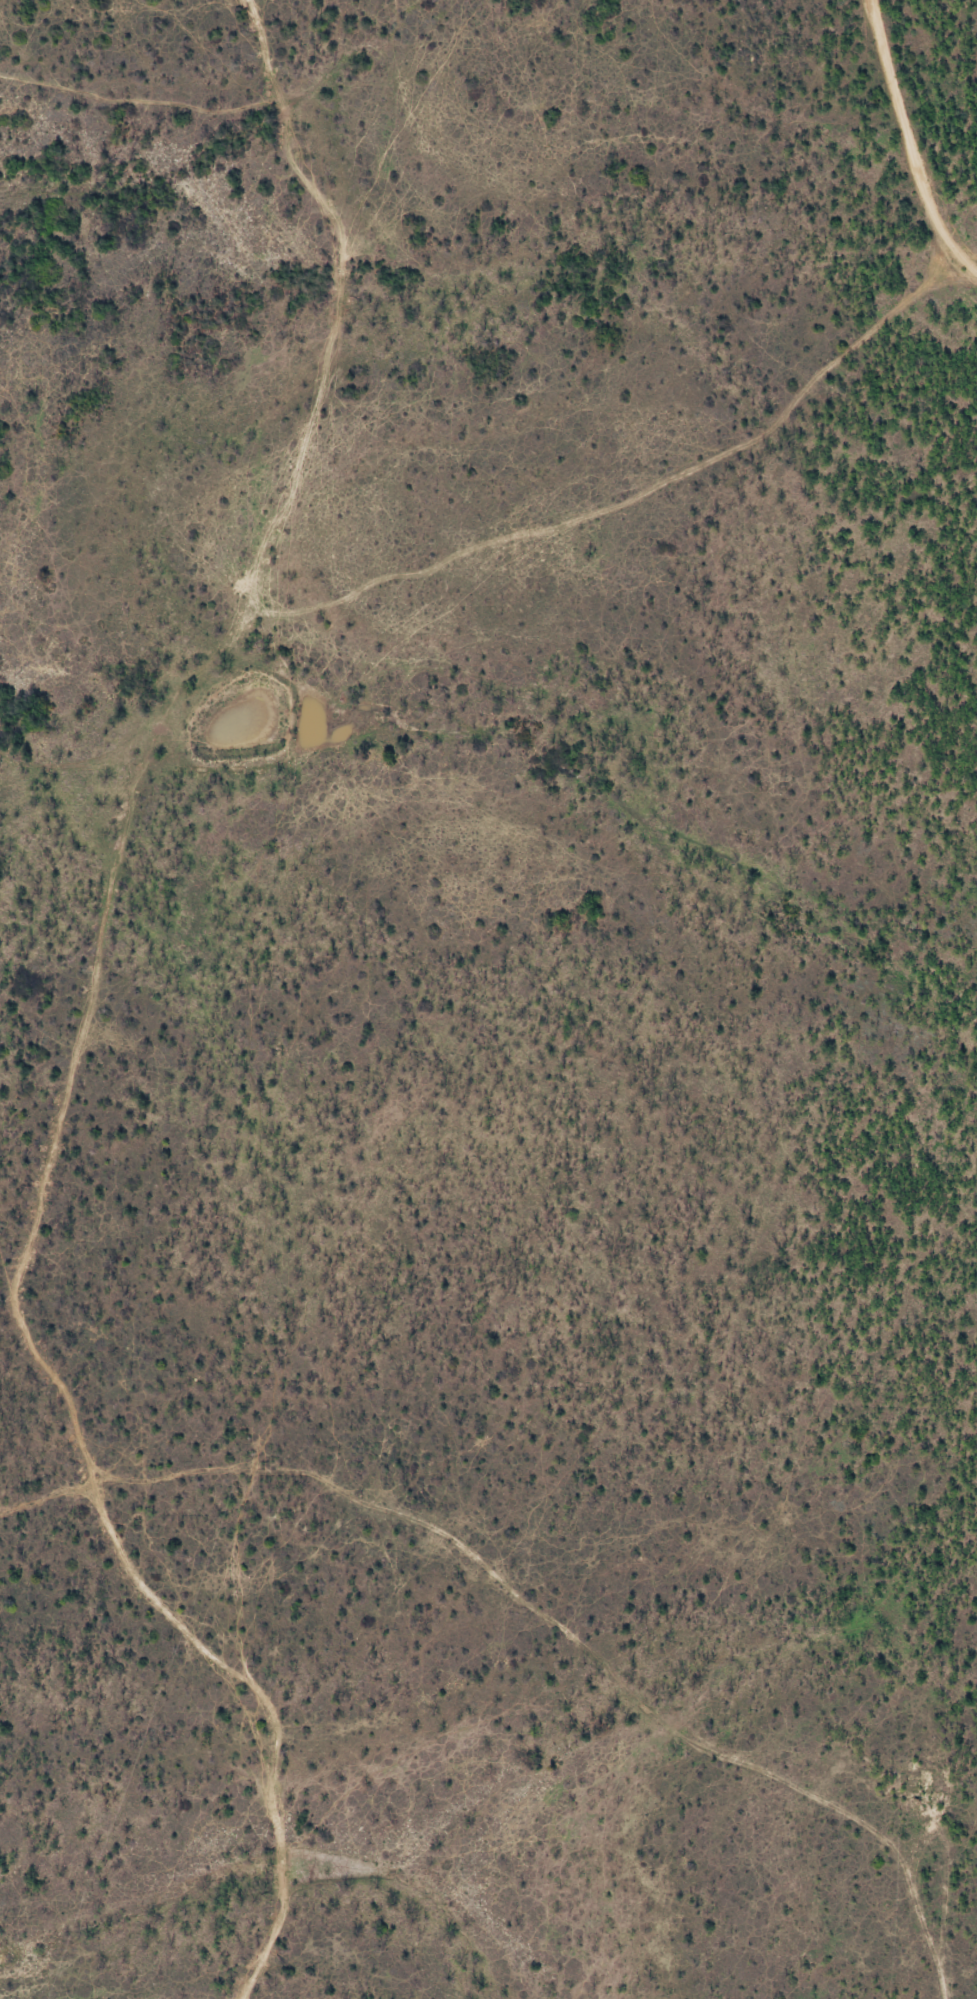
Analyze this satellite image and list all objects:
road: (243, 45)
road: (905, 151)
road: (292, 228)
road: (120, 936)
road: (951, 1915)

